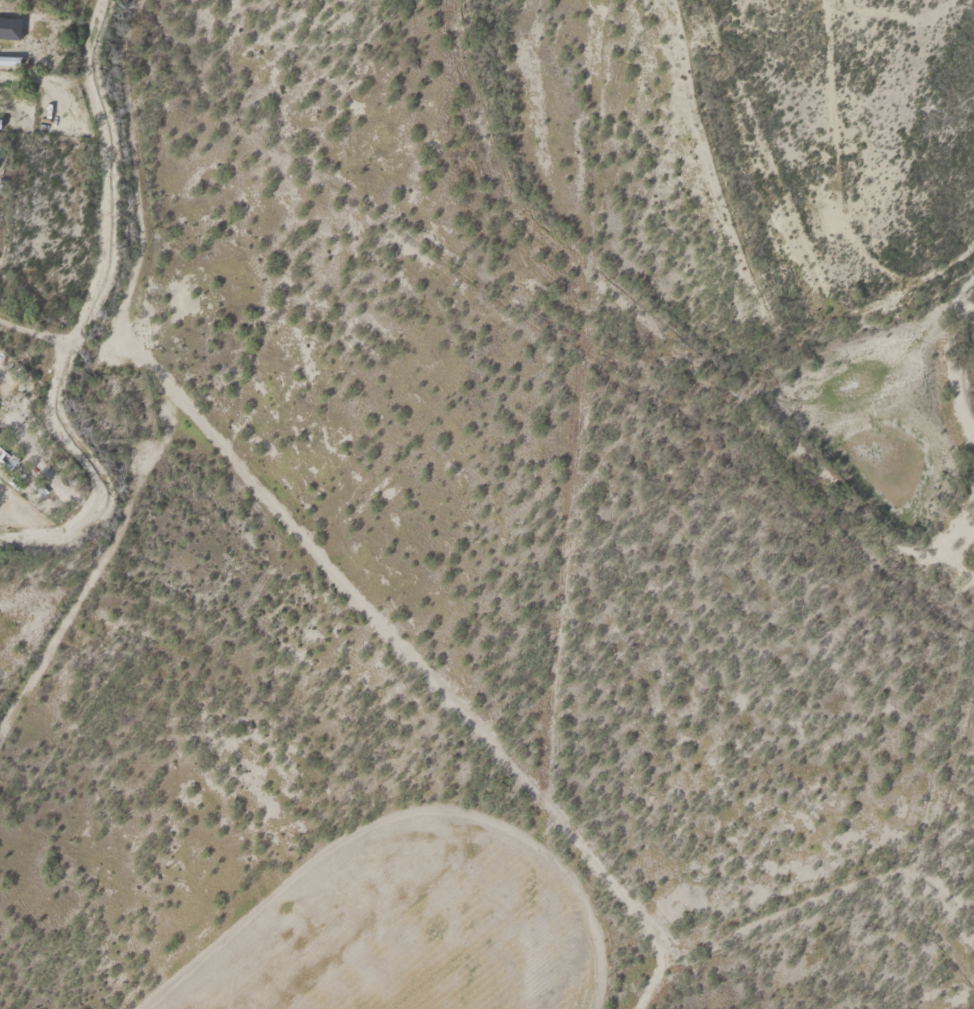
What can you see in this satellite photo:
building: (8, 55)
building: (68, 123)
road: (38, 326)
road: (177, 409)

